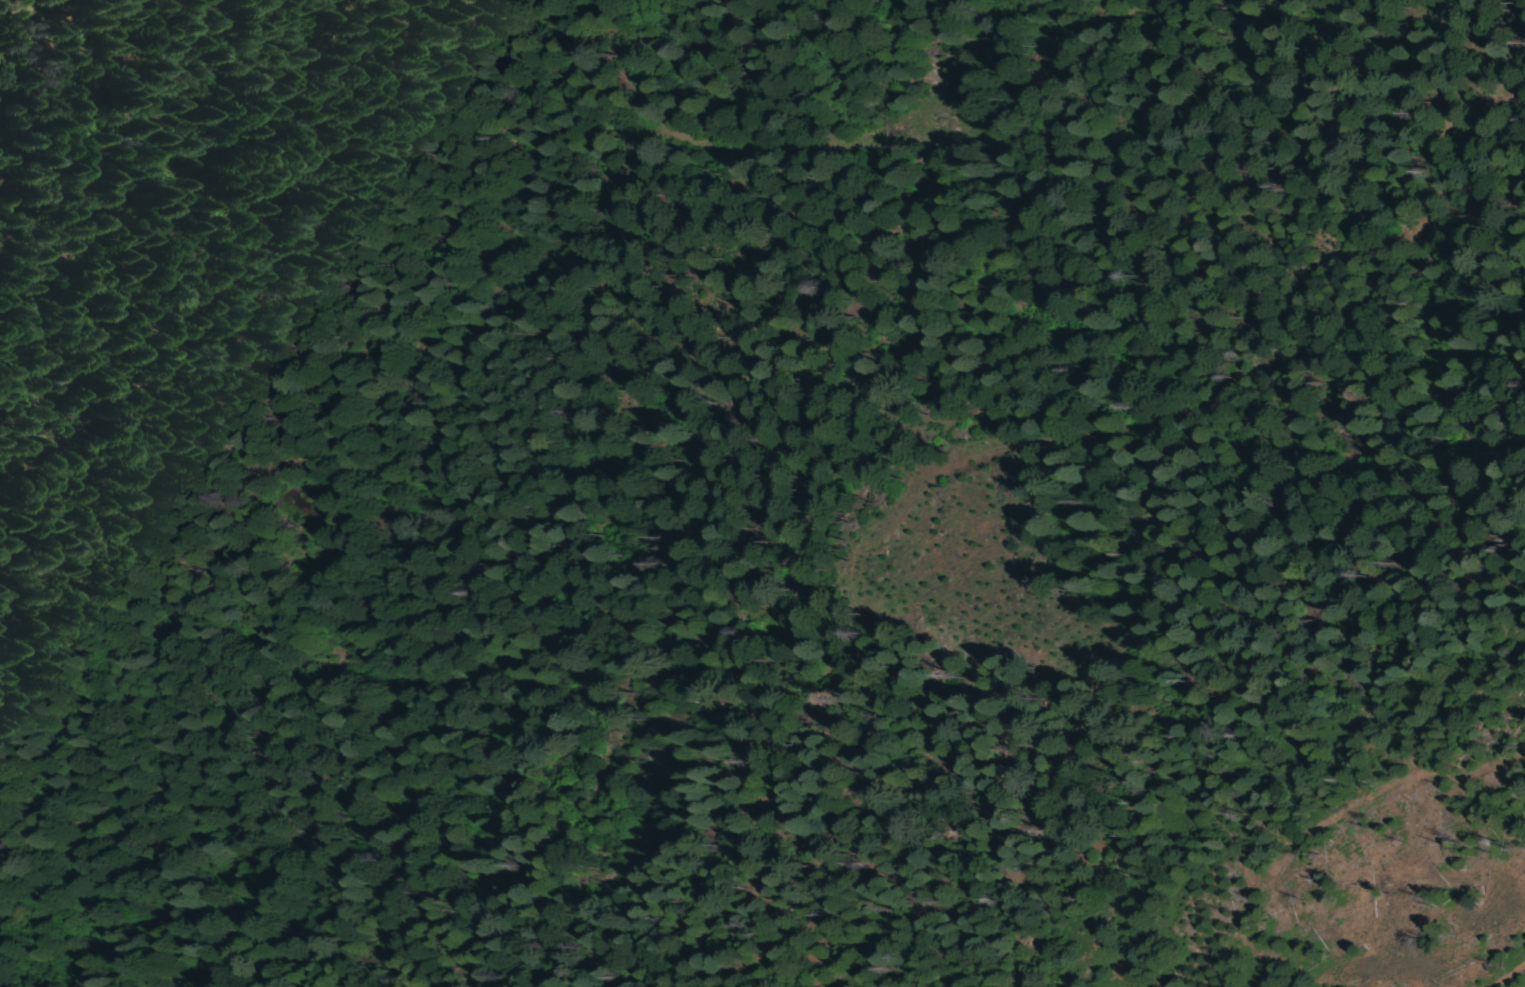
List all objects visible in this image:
road: (864, 130)
road: (175, 234)
road: (1427, 234)
road: (1513, 976)

